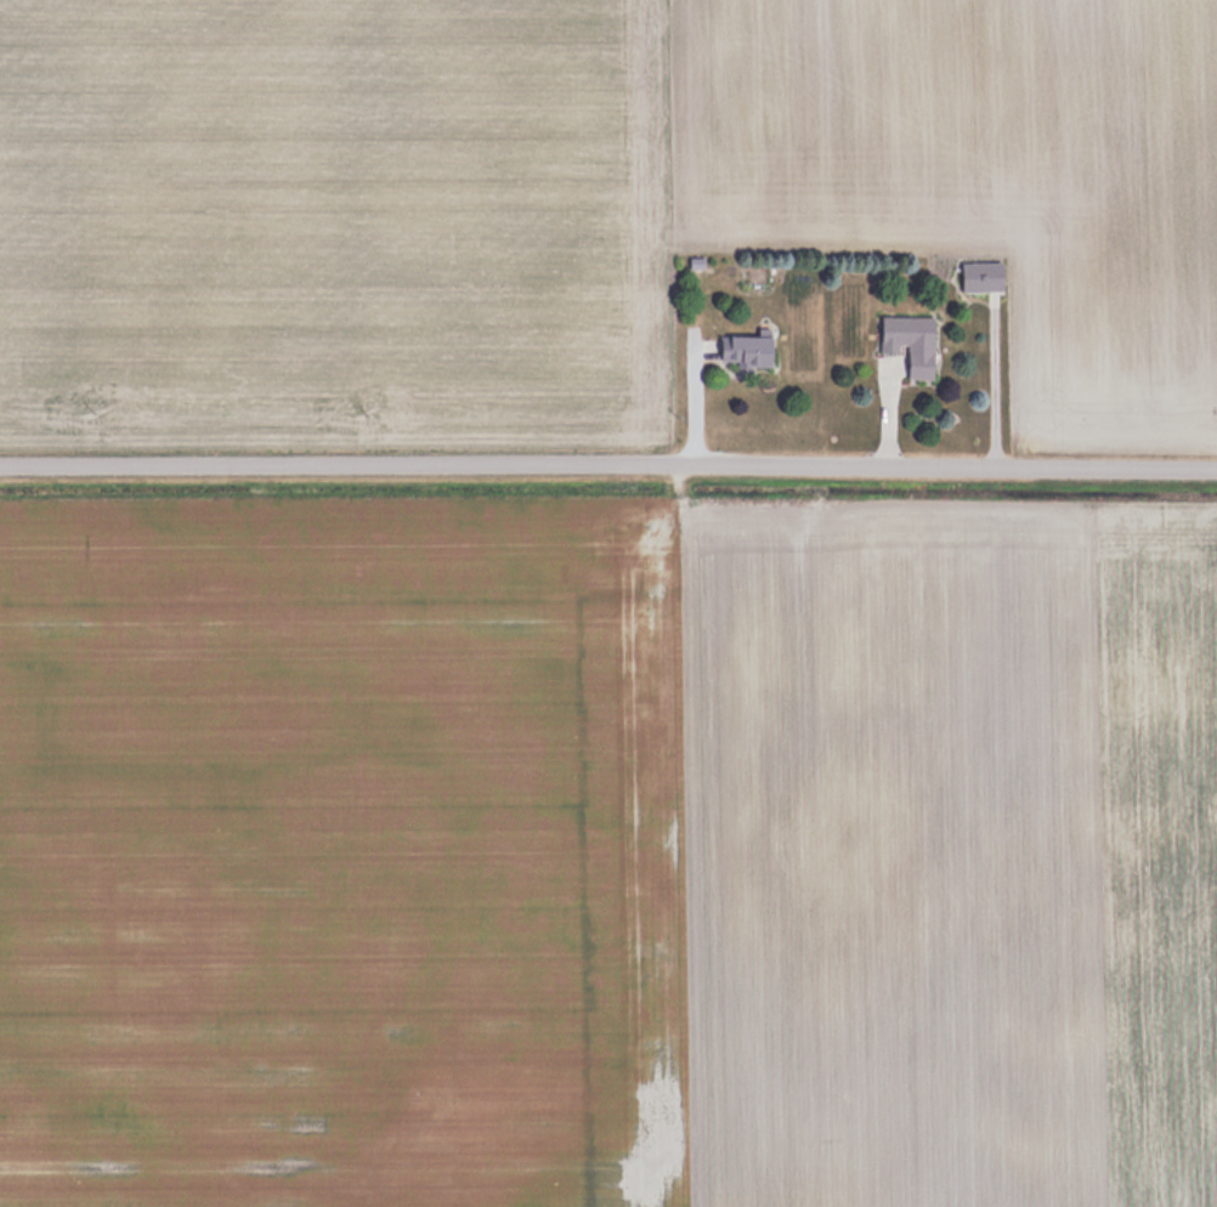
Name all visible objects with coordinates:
building: (979, 276)
building: (908, 341)
building: (745, 350)
road: (607, 470)

